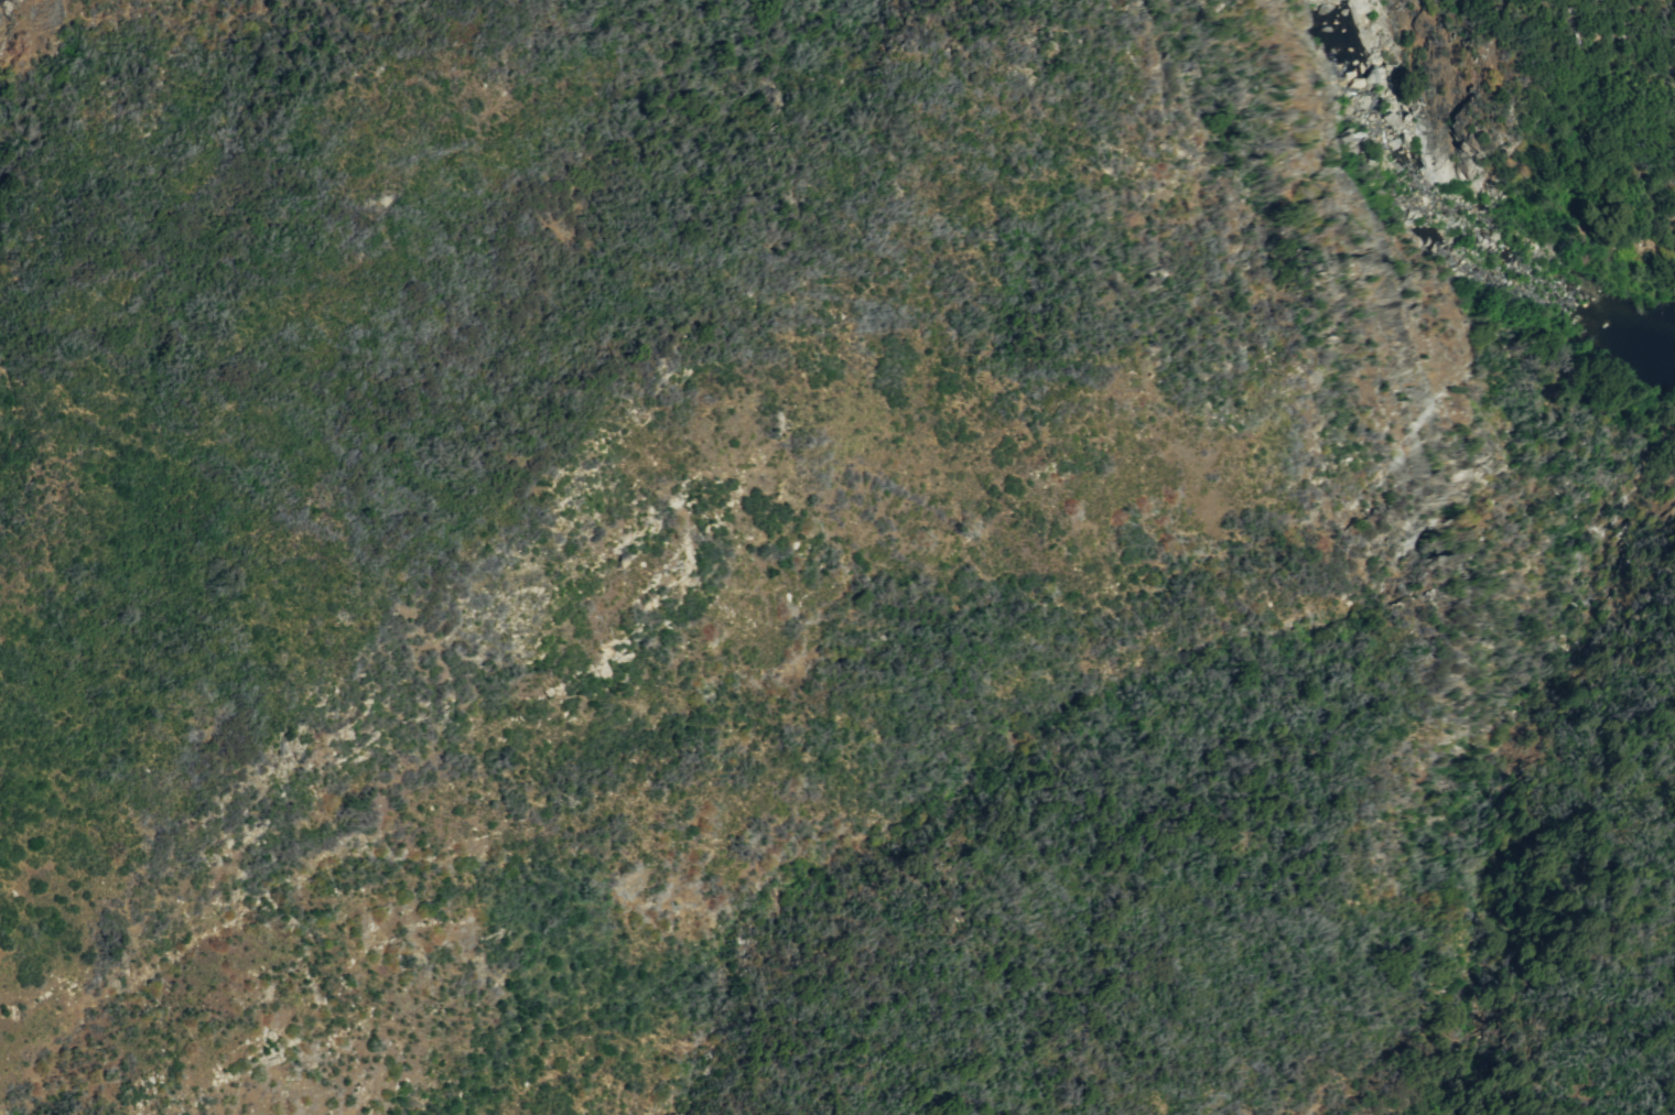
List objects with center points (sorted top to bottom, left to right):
river: (1438, 252)

